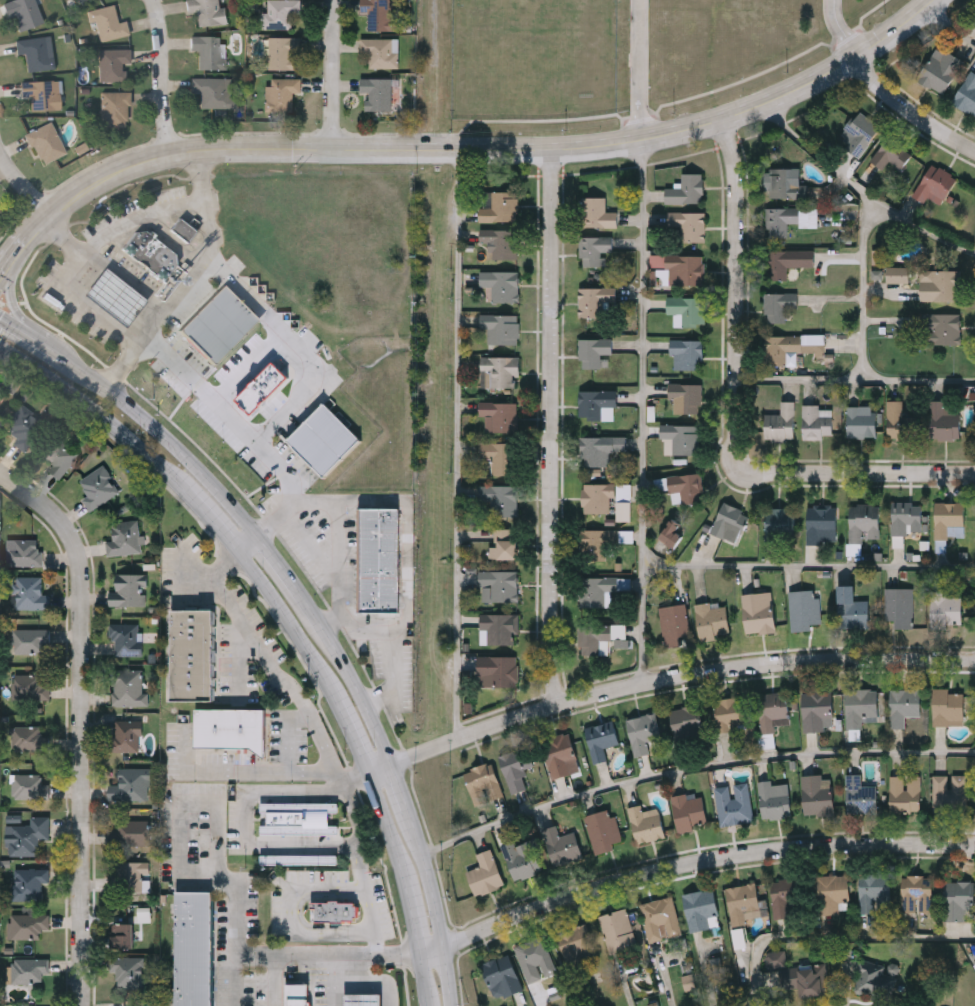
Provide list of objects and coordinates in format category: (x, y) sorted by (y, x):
building: (79, 0)
building: (209, 11)
building: (24, 13)
building: (281, 13)
building: (380, 13)
building: (109, 22)
road: (952, 23)
road: (839, 31)
building: (285, 50)
building: (380, 50)
building: (38, 51)
building: (210, 51)
building: (114, 64)
building: (939, 69)
road: (641, 70)
road: (331, 74)
road: (164, 76)
building: (215, 90)
building: (282, 92)
building: (378, 92)
building: (43, 93)
building: (966, 93)
building: (117, 107)
road: (912, 108)
building: (858, 133)
building: (47, 141)
road: (487, 149)
building: (890, 154)
building: (785, 182)
road: (23, 186)
building: (934, 186)
building: (686, 189)
road: (862, 190)
building: (497, 206)
road: (162, 208)
building: (592, 210)
building: (788, 219)
building: (688, 224)
building: (183, 228)
building: (500, 242)
building: (594, 250)
building: (151, 252)
road: (14, 259)
building: (780, 262)
building: (680, 267)
building: (878, 274)
building: (897, 274)
road: (129, 276)
road: (190, 277)
building: (939, 284)
building: (499, 286)
road: (862, 288)
building: (115, 296)
building: (592, 299)
road: (80, 304)
road: (14, 305)
building: (777, 305)
building: (687, 310)
building: (221, 324)
building: (500, 328)
building: (937, 328)
road: (18, 330)
building: (790, 347)
road: (48, 350)
building: (592, 351)
building: (686, 354)
building: (499, 371)
road: (853, 380)
road: (200, 386)
building: (263, 387)
road: (294, 393)
building: (686, 397)
building: (0, 398)
building: (597, 405)
road: (95, 409)
road: (643, 413)
building: (499, 415)
road: (730, 416)
building: (944, 420)
building: (781, 422)
building: (816, 422)
building: (860, 422)
building: (900, 422)
building: (22, 425)
road: (553, 427)
building: (682, 438)
road: (165, 439)
building: (326, 439)
road: (465, 443)
building: (599, 449)
building: (57, 455)
building: (500, 457)
building: (97, 487)
building: (684, 488)
building: (500, 498)
building: (597, 498)
building: (624, 503)
road: (211, 518)
building: (906, 518)
building: (948, 520)
building: (728, 521)
building: (863, 522)
building: (779, 523)
building: (821, 523)
building: (670, 534)
building: (123, 537)
building: (503, 544)
building: (595, 544)
road: (247, 546)
building: (23, 552)
road: (406, 557)
building: (379, 559)
road: (809, 566)
road: (326, 575)
road: (288, 585)
building: (498, 585)
building: (598, 588)
building: (128, 590)
building: (29, 593)
building: (898, 606)
building: (851, 608)
building: (803, 609)
building: (945, 609)
building: (757, 614)
building: (711, 620)
building: (673, 621)
road: (291, 625)
road: (367, 626)
building: (500, 628)
building: (591, 637)
building: (125, 638)
building: (29, 640)
building: (192, 654)
building: (497, 671)
road: (278, 675)
road: (676, 679)
building: (28, 687)
building: (127, 688)
road: (358, 696)
building: (903, 704)
building: (860, 706)
building: (948, 707)
building: (772, 710)
building: (817, 710)
building: (730, 713)
road: (81, 721)
building: (686, 725)
building: (232, 728)
road: (290, 732)
building: (642, 732)
building: (125, 735)
road: (358, 735)
building: (27, 738)
building: (600, 739)
building: (768, 741)
building: (559, 754)
road: (244, 766)
road: (382, 769)
building: (514, 770)
road: (691, 773)
building: (130, 784)
building: (482, 784)
building: (28, 786)
road: (399, 793)
building: (949, 793)
building: (817, 794)
building: (904, 794)
building: (859, 795)
road: (218, 799)
building: (774, 799)
building: (733, 804)
building: (689, 811)
building: (297, 817)
building: (645, 823)
road: (389, 825)
road: (243, 828)
building: (601, 830)
building: (128, 831)
building: (25, 836)
building: (561, 845)
building: (299, 858)
building: (521, 858)
road: (699, 860)
road: (361, 867)
building: (484, 873)
building: (128, 877)
building: (29, 882)
road: (425, 882)
building: (874, 892)
building: (832, 893)
building: (916, 893)
building: (783, 895)
building: (957, 898)
building: (741, 901)
building: (701, 909)
building: (334, 911)
road: (290, 914)
road: (412, 915)
building: (659, 918)
building: (26, 925)
building: (616, 929)
building: (120, 934)
road: (833, 937)
building: (574, 943)
building: (194, 949)
road: (428, 949)
road: (320, 951)
building: (534, 958)
road: (236, 959)
building: (776, 959)
road: (335, 966)
building: (25, 969)
building: (893, 969)
building: (127, 970)
building: (501, 975)
road: (443, 976)
building: (807, 978)
road: (423, 979)
building: (874, 979)
road: (362, 982)
building: (690, 982)
building: (298, 994)
building: (363, 999)

